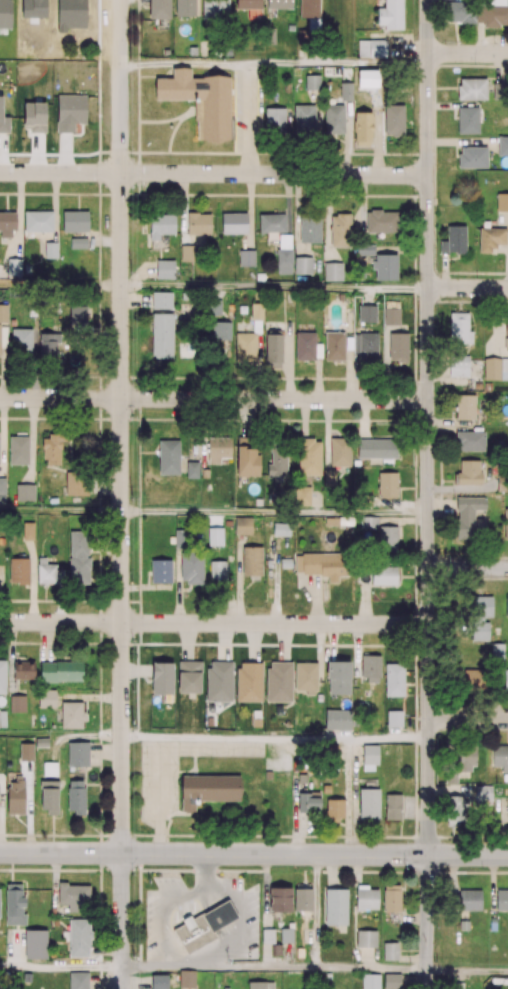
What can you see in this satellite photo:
road: (467, 54)
road: (273, 66)
road: (247, 120)
road: (213, 173)
road: (54, 206)
road: (18, 214)
road: (104, 239)
road: (60, 285)
road: (274, 286)
road: (468, 288)
road: (367, 294)
road: (135, 298)
road: (386, 362)
road: (287, 365)
road: (317, 379)
road: (214, 399)
road: (304, 417)
road: (363, 418)
road: (449, 421)
road: (121, 426)
road: (428, 427)
road: (452, 428)
road: (327, 433)
road: (462, 488)
road: (60, 512)
road: (274, 512)
road: (468, 569)
road: (214, 623)
road: (468, 719)
road: (61, 737)
road: (275, 738)
road: (253, 853)
road: (122, 921)
road: (427, 922)
road: (61, 965)
road: (274, 969)
road: (467, 972)

